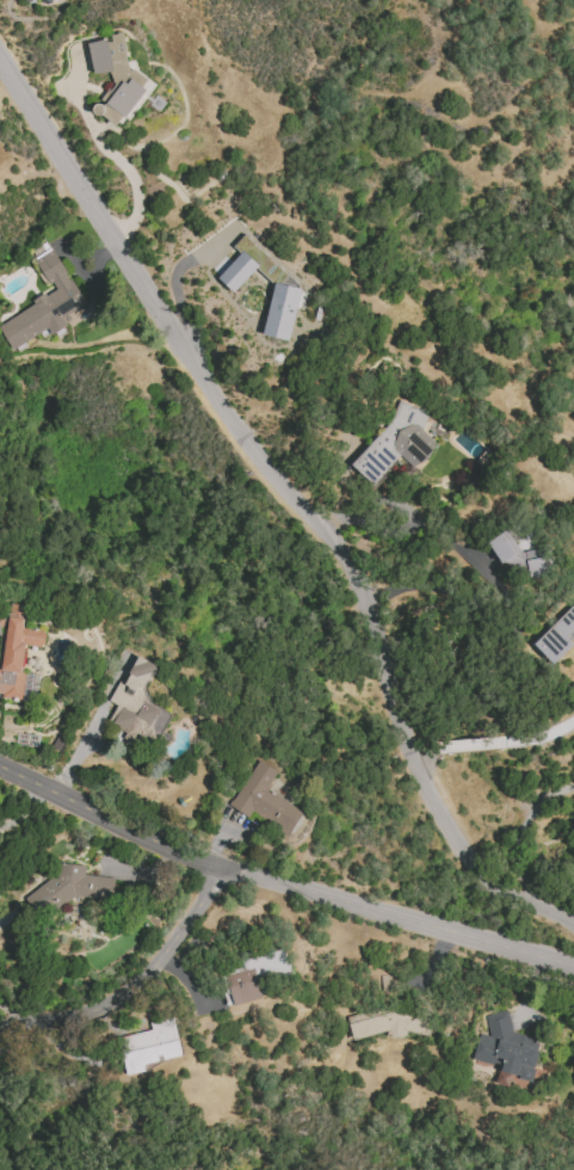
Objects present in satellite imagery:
building: (24, 1)
building: (116, 79)
road: (111, 155)
road: (175, 277)
building: (43, 304)
building: (282, 312)
building: (396, 443)
road: (296, 500)
road: (406, 528)
building: (519, 559)
road: (432, 589)
building: (557, 636)
building: (14, 651)
building: (137, 707)
road: (90, 728)
road: (493, 743)
building: (264, 800)
road: (279, 883)
building: (68, 889)
building: (255, 974)
road: (137, 986)
road: (21, 1011)
building: (390, 1022)
building: (149, 1045)
building: (506, 1049)

